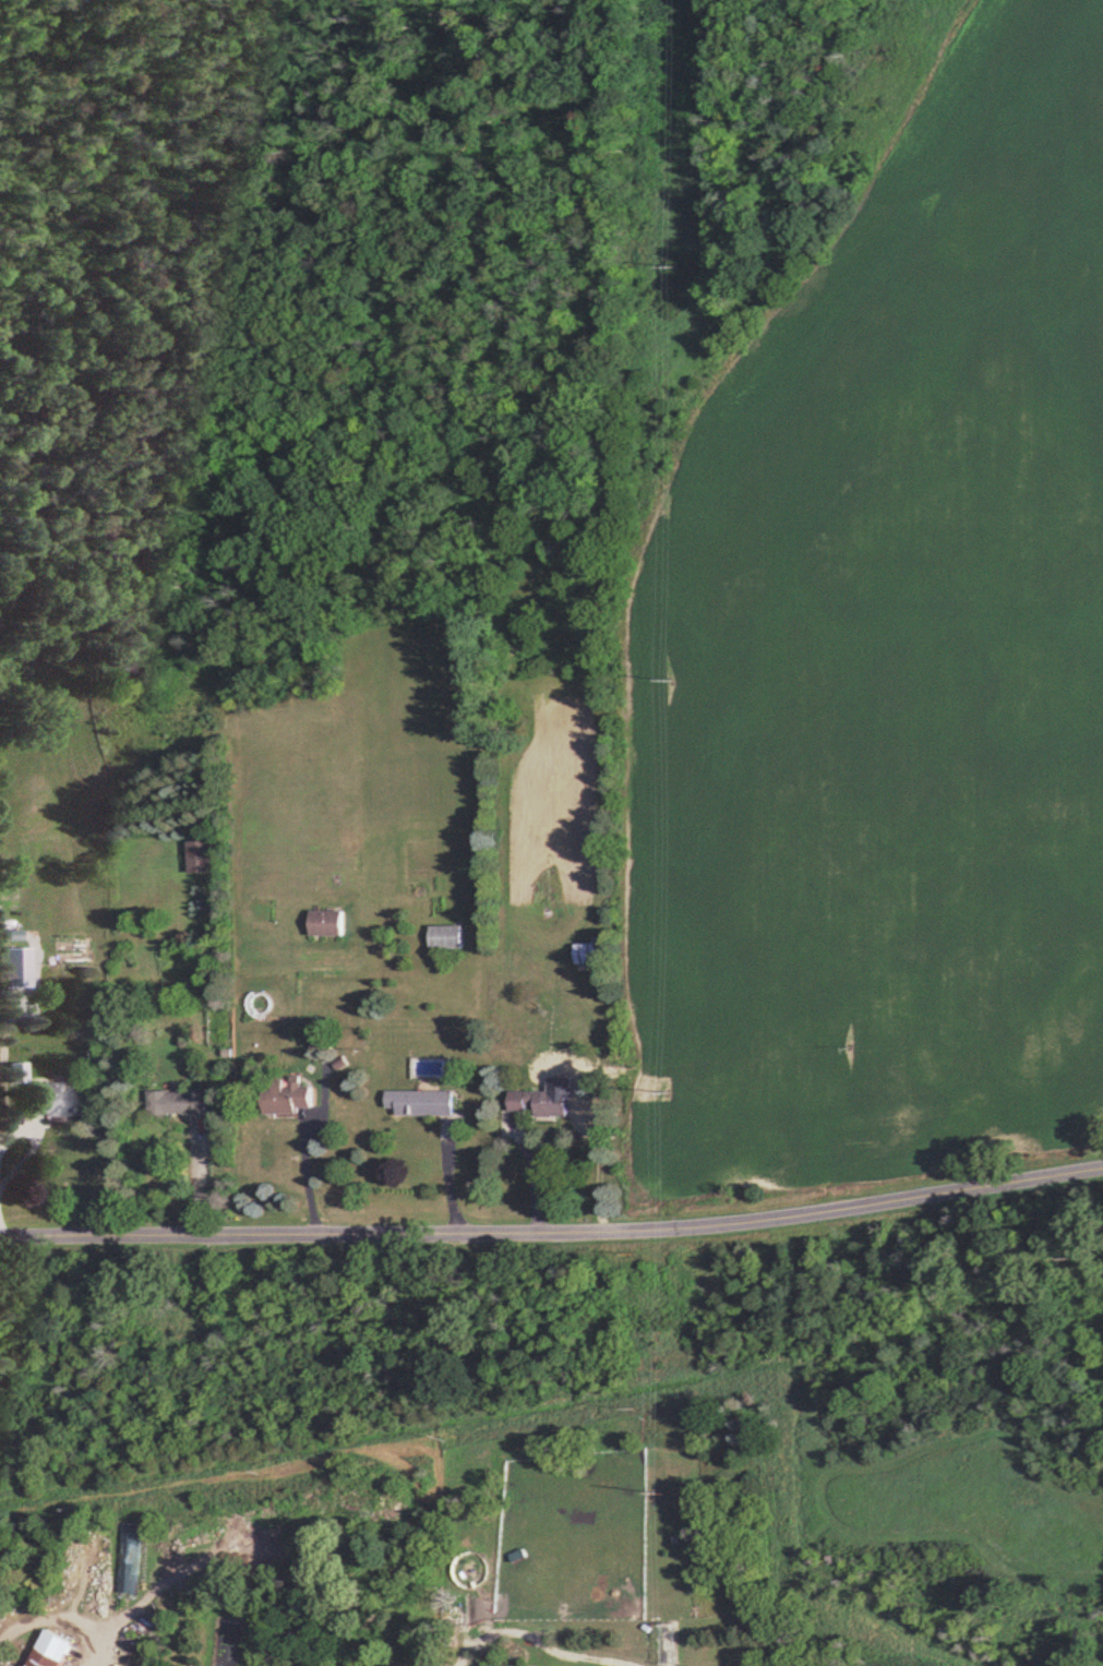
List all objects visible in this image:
building: (325, 922)
building: (445, 935)
building: (587, 952)
building: (285, 1094)
building: (52, 1099)
building: (539, 1100)
building: (419, 1101)
building: (177, 1102)
road: (11, 1136)
road: (309, 1168)
road: (533, 1174)
road: (199, 1175)
road: (447, 1175)
road: (553, 1231)
building: (129, 1558)
road: (59, 1615)
building: (48, 1650)

